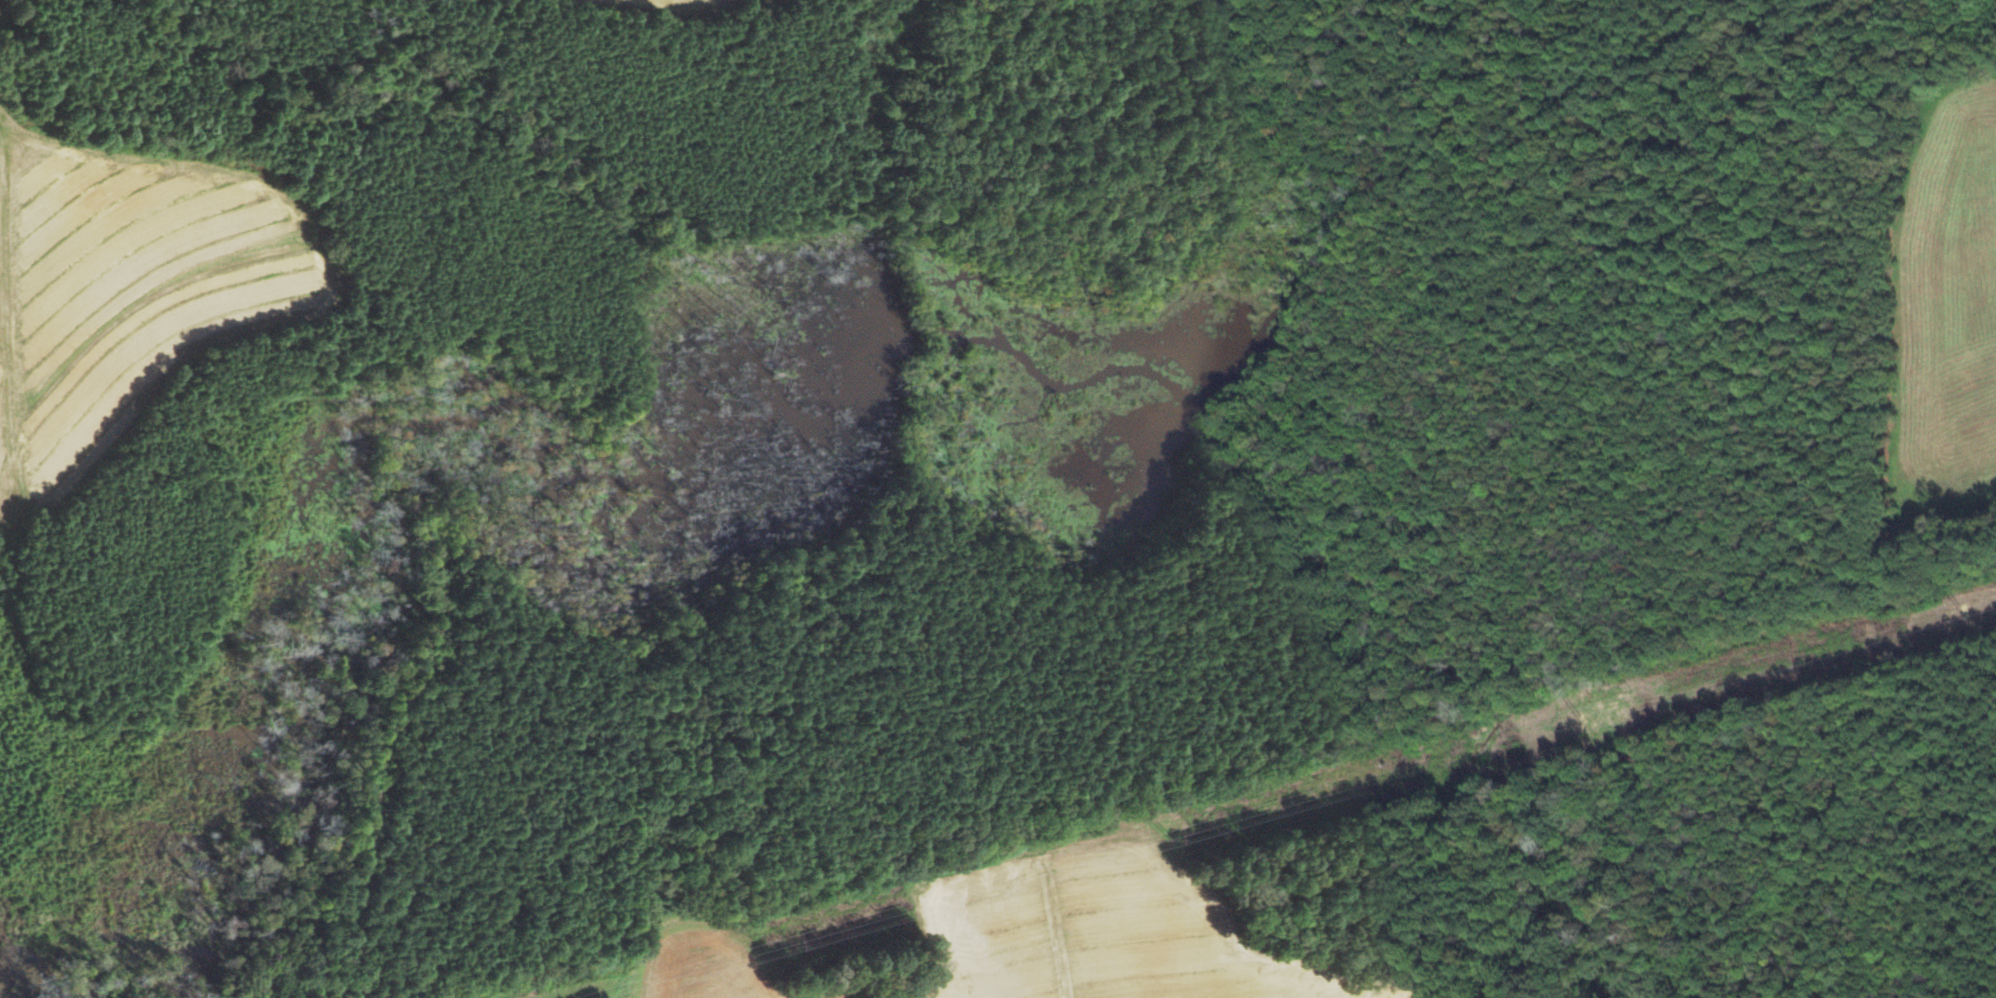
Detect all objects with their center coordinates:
road: (653, 12)
power tower: (1965, 613)
power tower: (1580, 720)
power tower: (1172, 834)
power tower: (790, 942)

